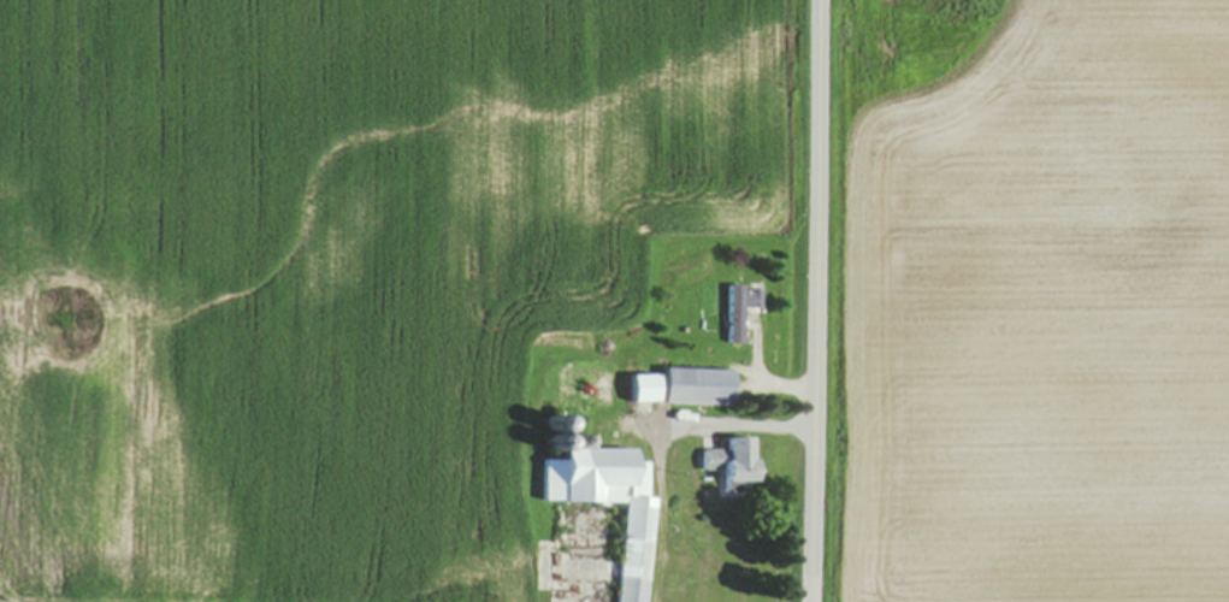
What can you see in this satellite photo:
road: (817, 301)
building: (741, 309)
road: (787, 384)
building: (698, 386)
building: (644, 388)
road: (662, 441)
building: (734, 460)
building: (639, 554)

